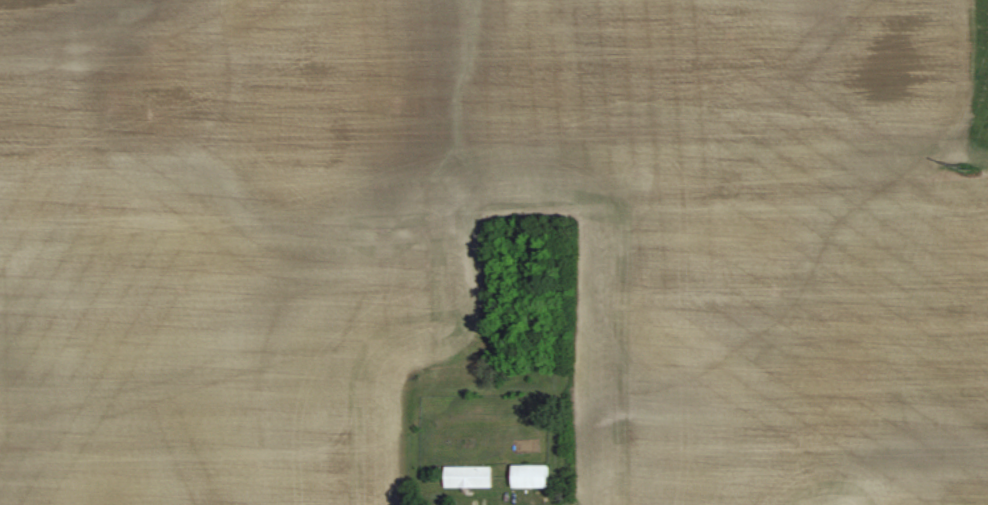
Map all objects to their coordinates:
power tower: (963, 172)
building: (535, 474)
building: (472, 475)

